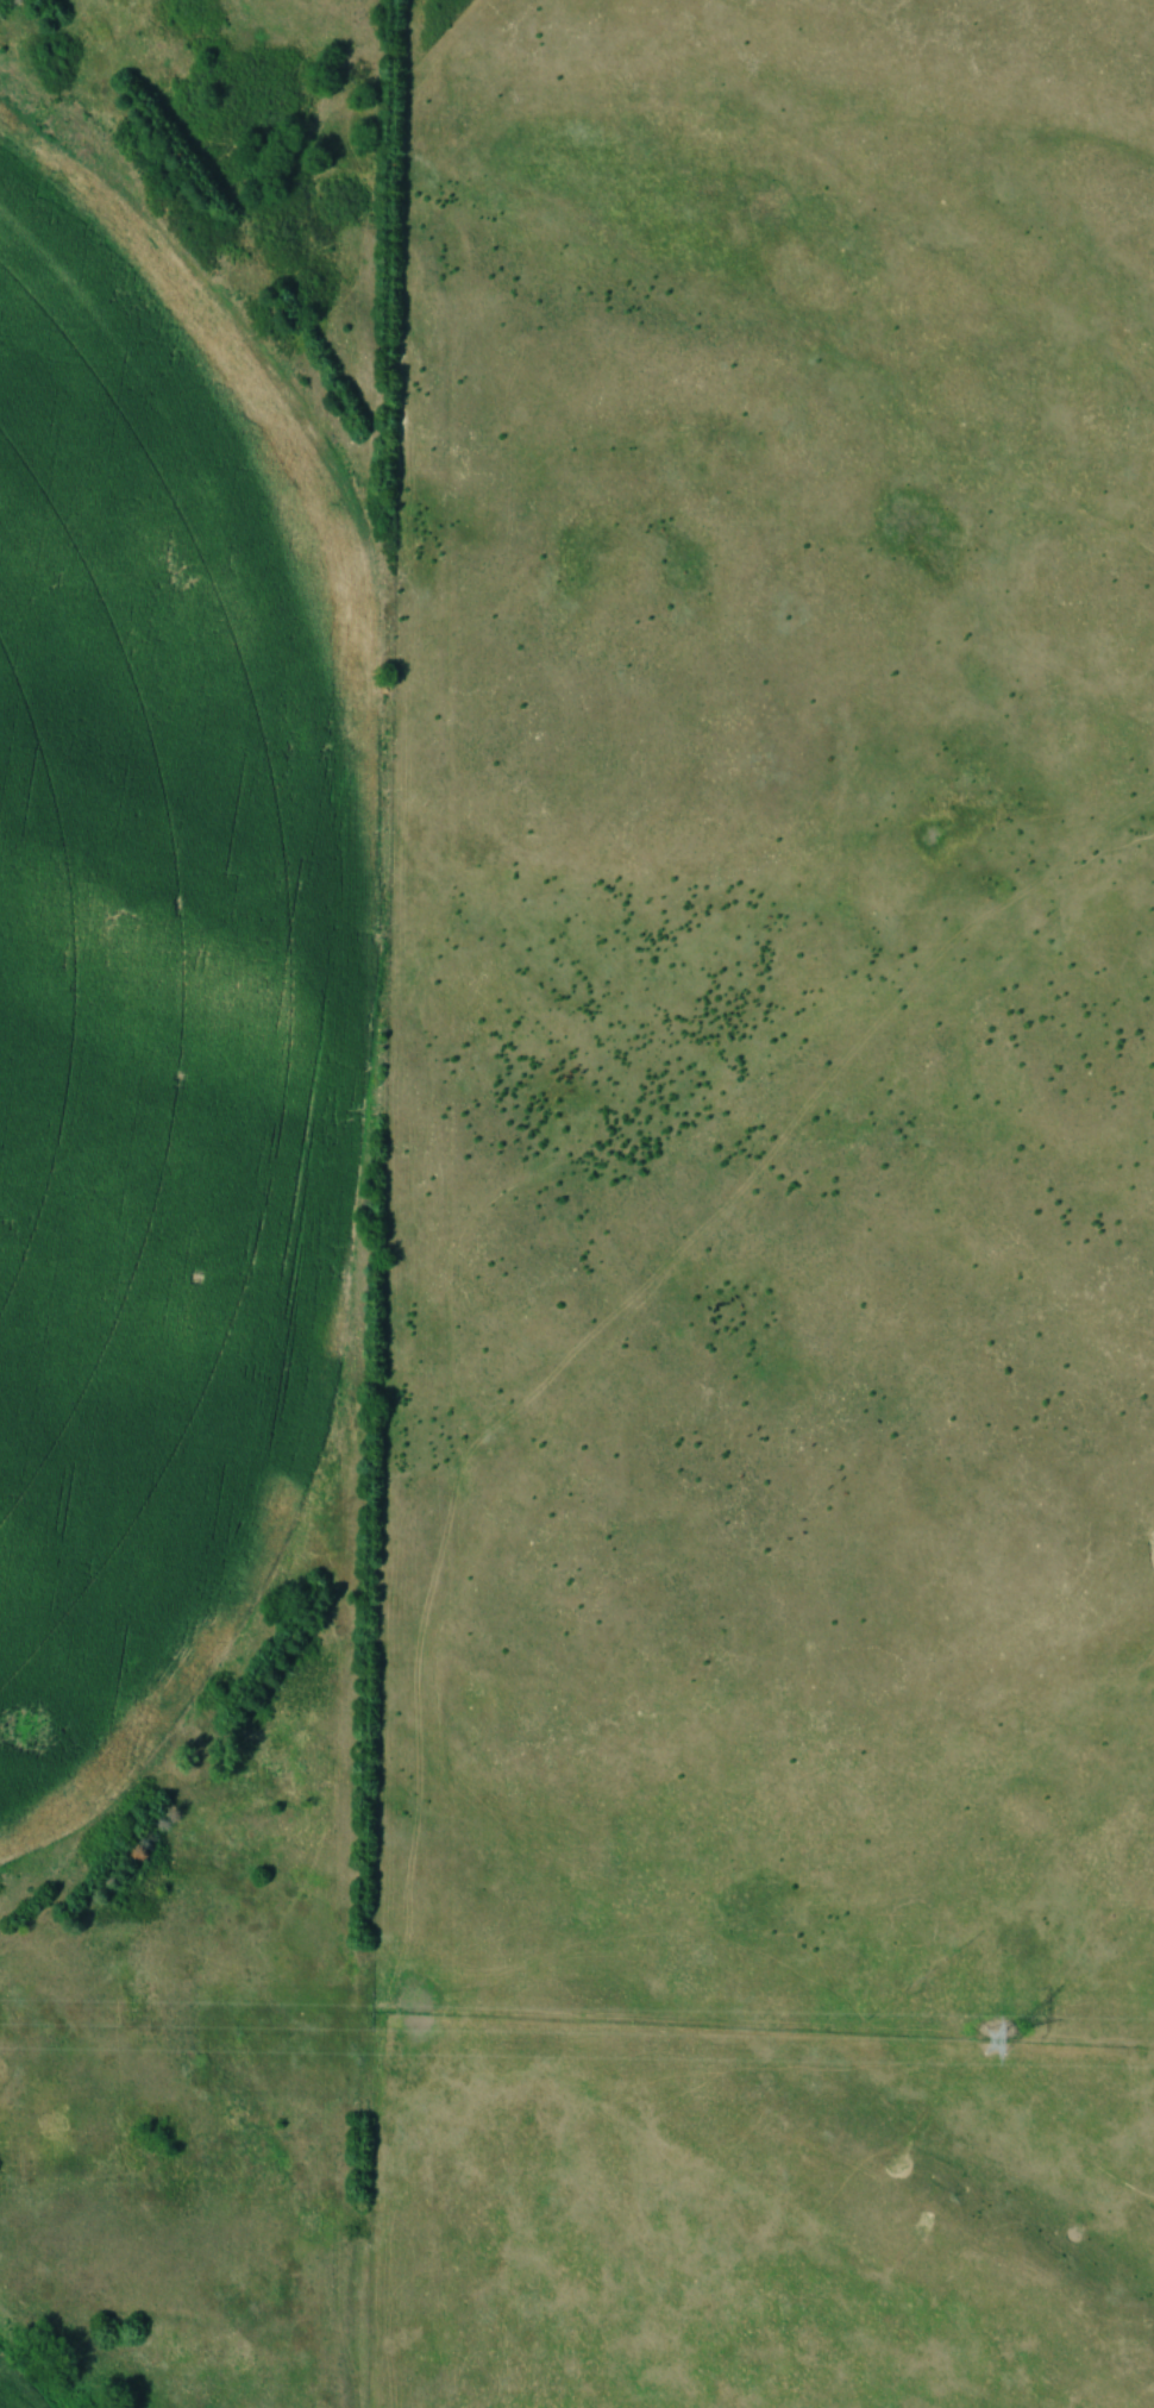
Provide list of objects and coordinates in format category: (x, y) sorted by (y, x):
power tower: (995, 2042)

